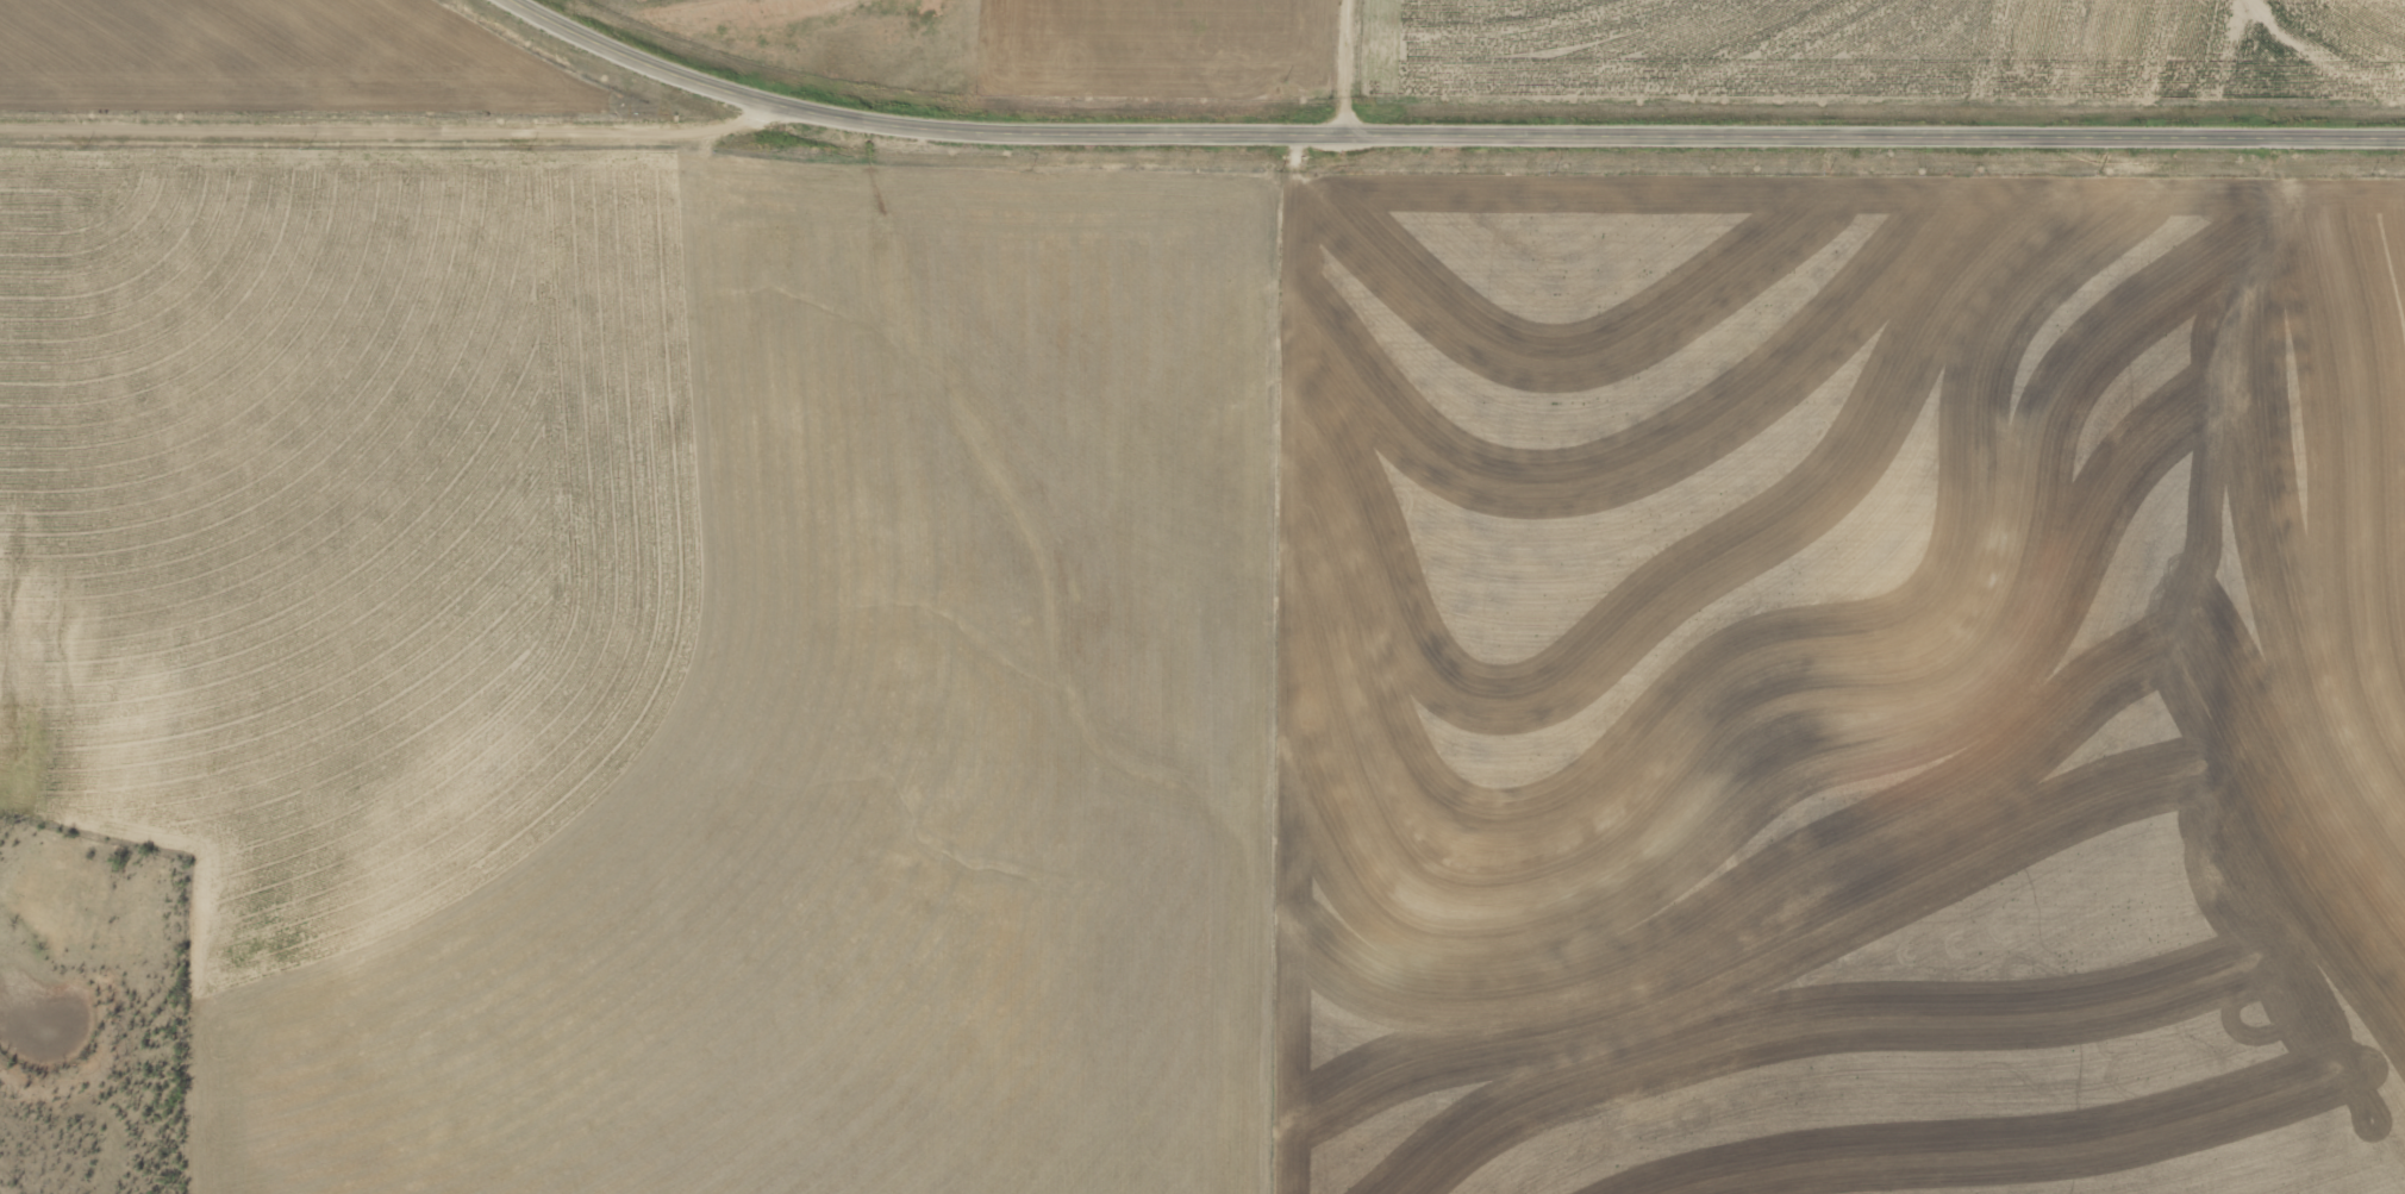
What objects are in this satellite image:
road: (1339, 68)
road: (466, 133)
road: (1447, 136)

